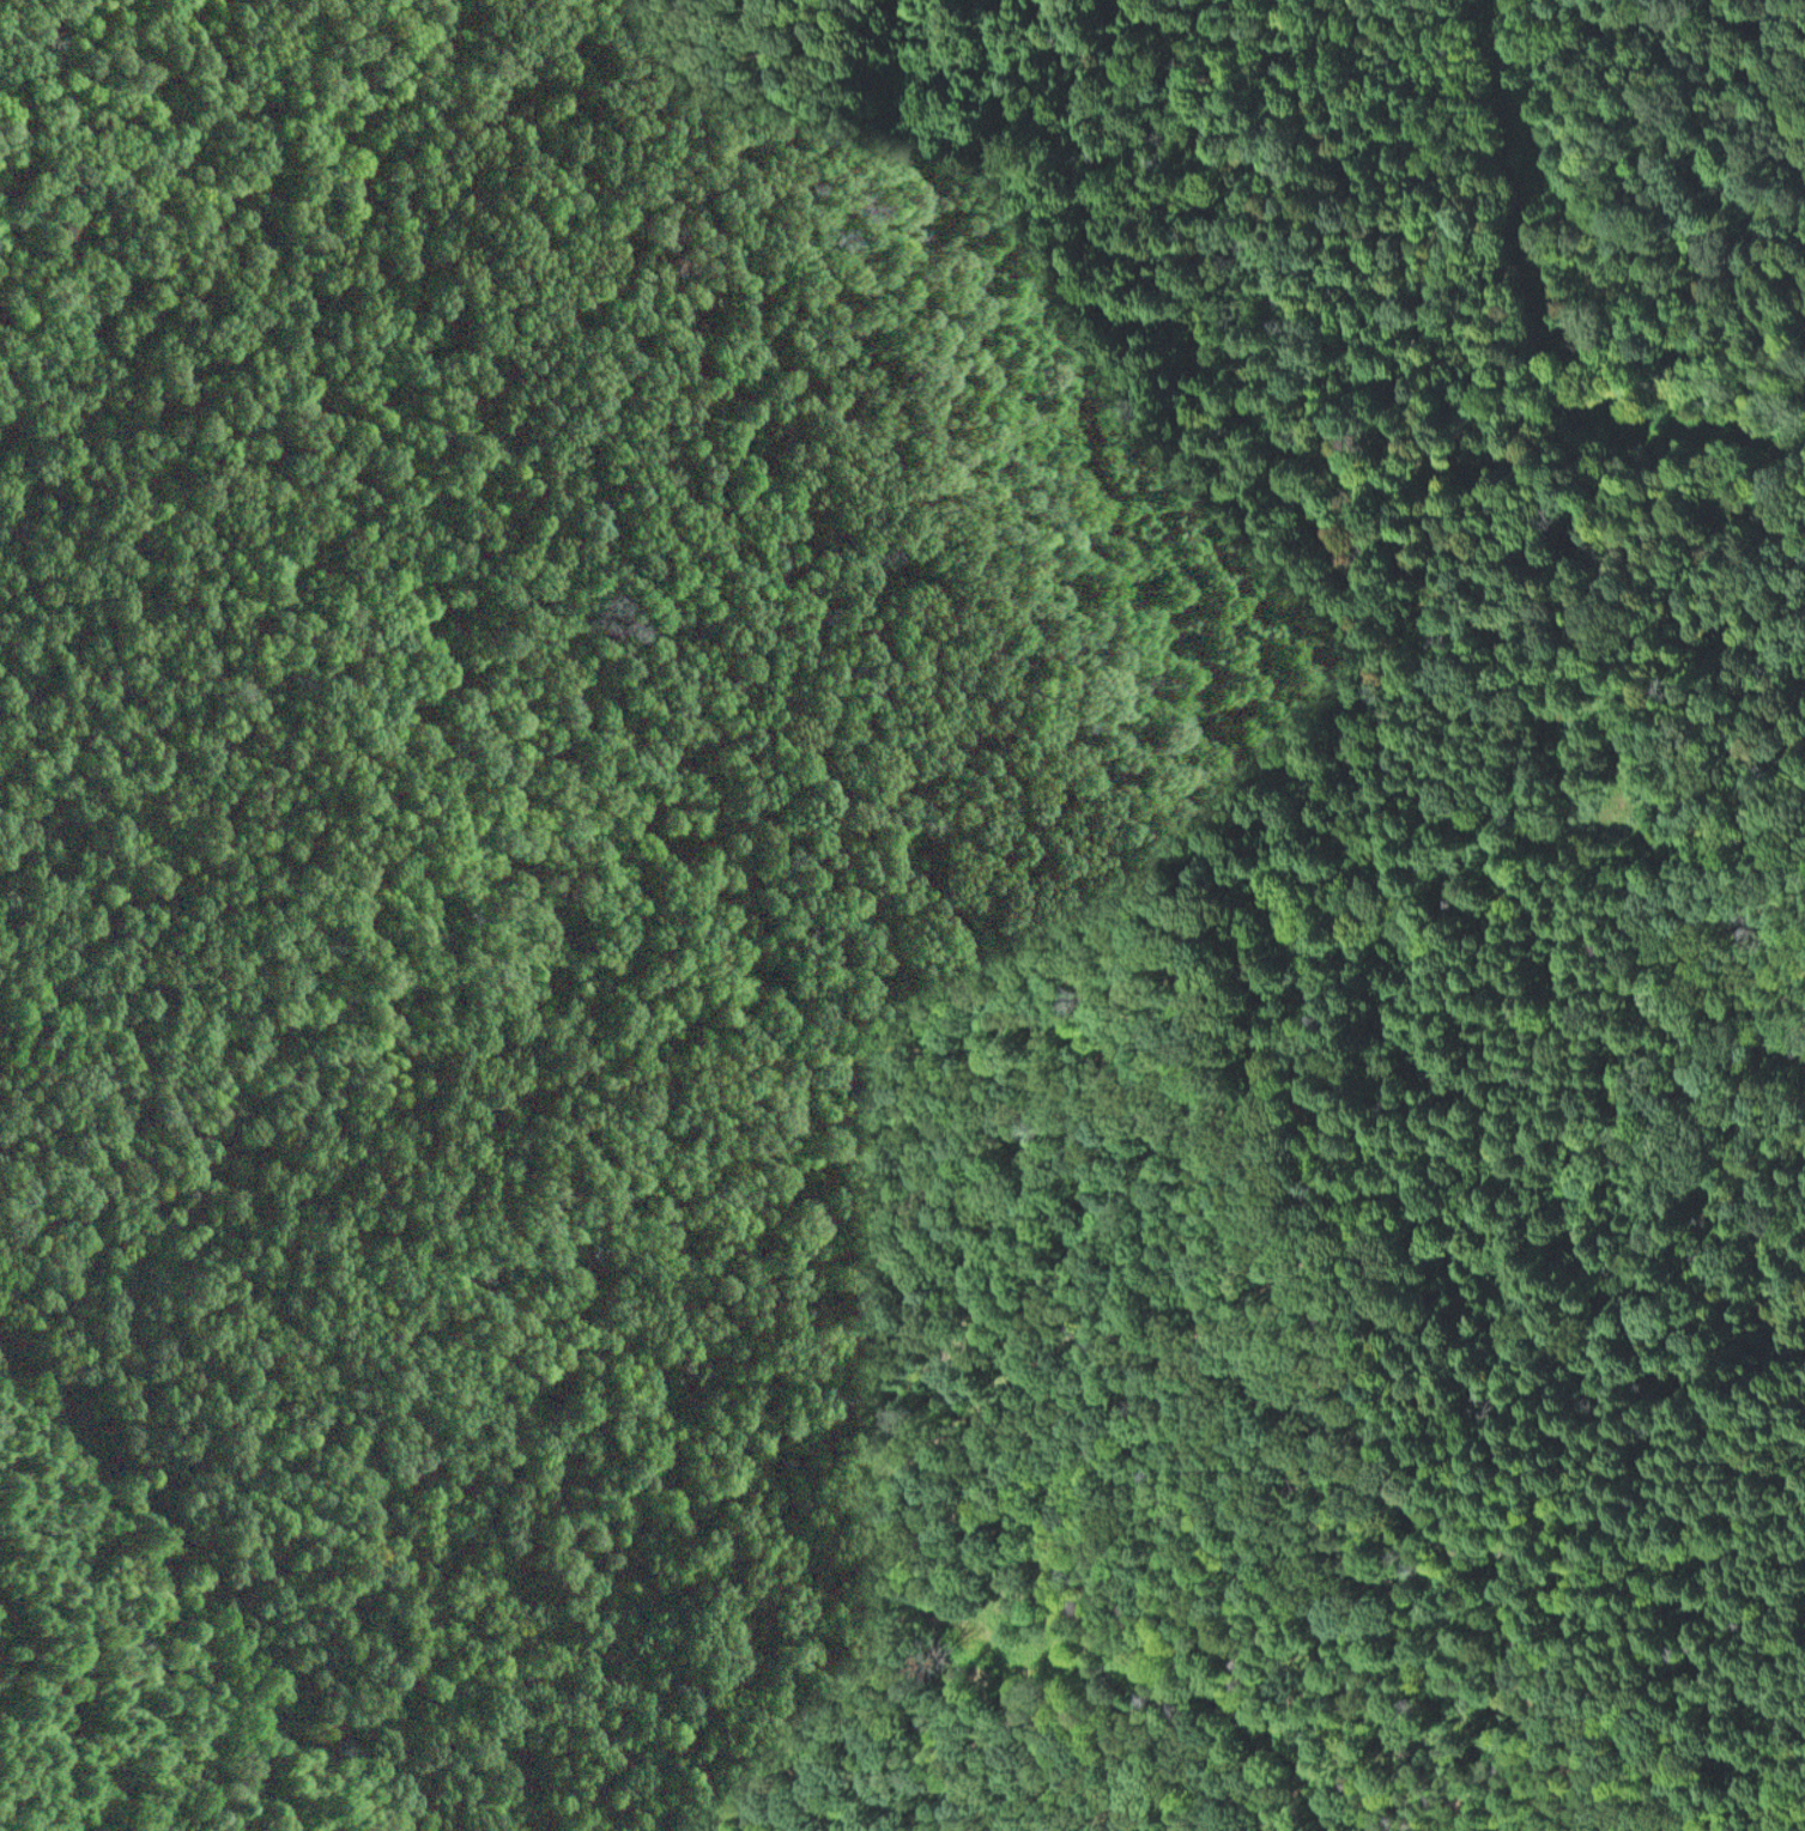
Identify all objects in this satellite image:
road: (1526, 164)
road: (1188, 1697)
road: (1613, 1715)

